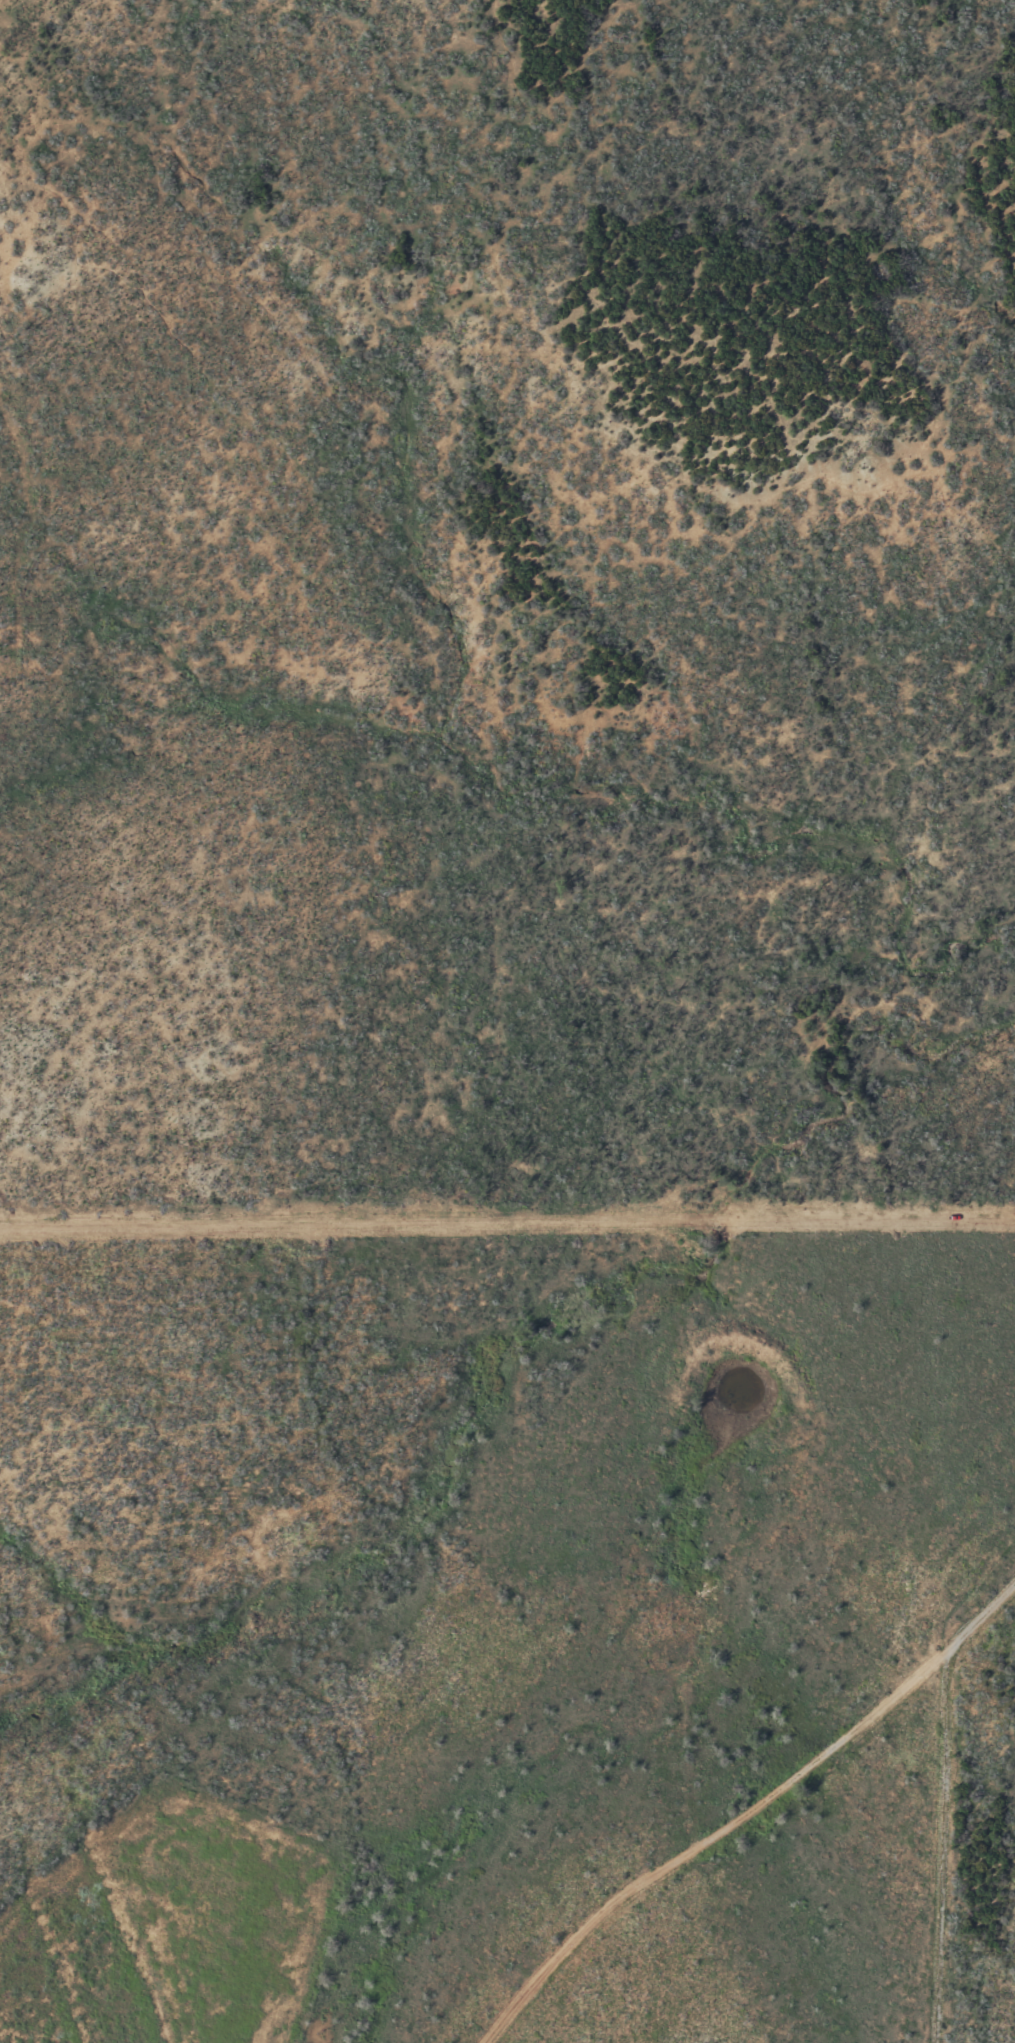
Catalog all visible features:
road: (772, 1828)

